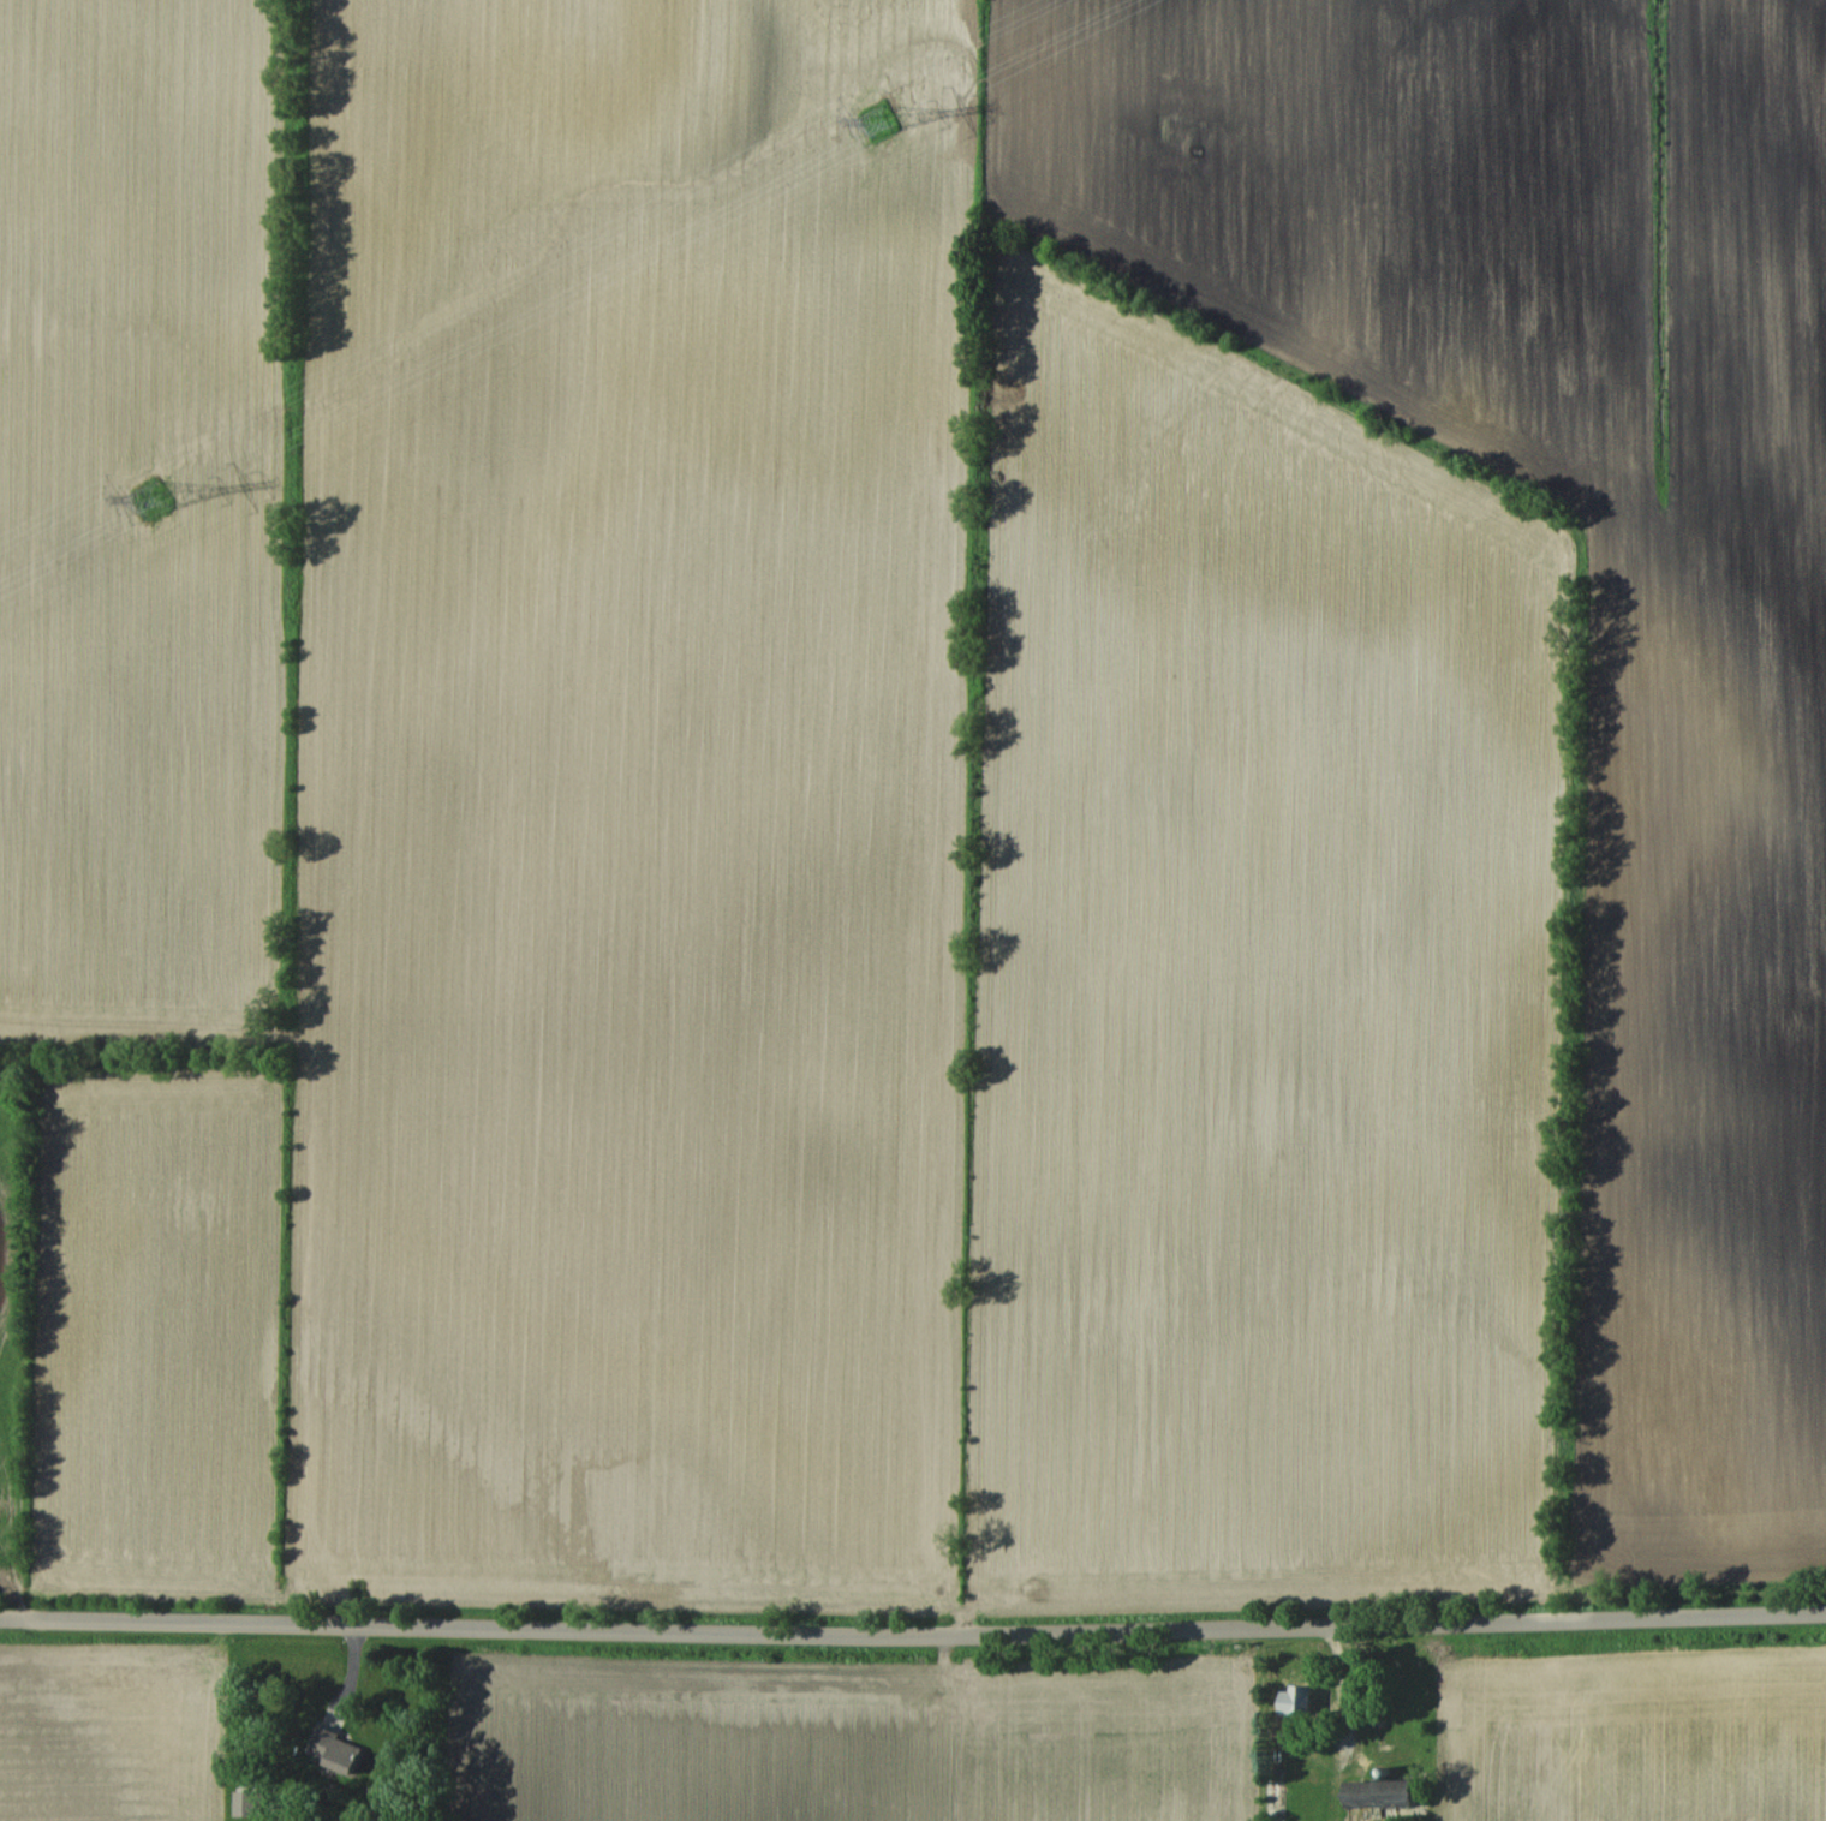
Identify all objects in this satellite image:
power tower: (879, 120)
power tower: (151, 498)
crop: (148, 778)
crop: (1056, 804)
road: (913, 1631)
building: (1300, 1701)
crop: (107, 1729)
crop: (1633, 1736)
crop: (855, 1741)
building: (335, 1751)
building: (1384, 1798)

